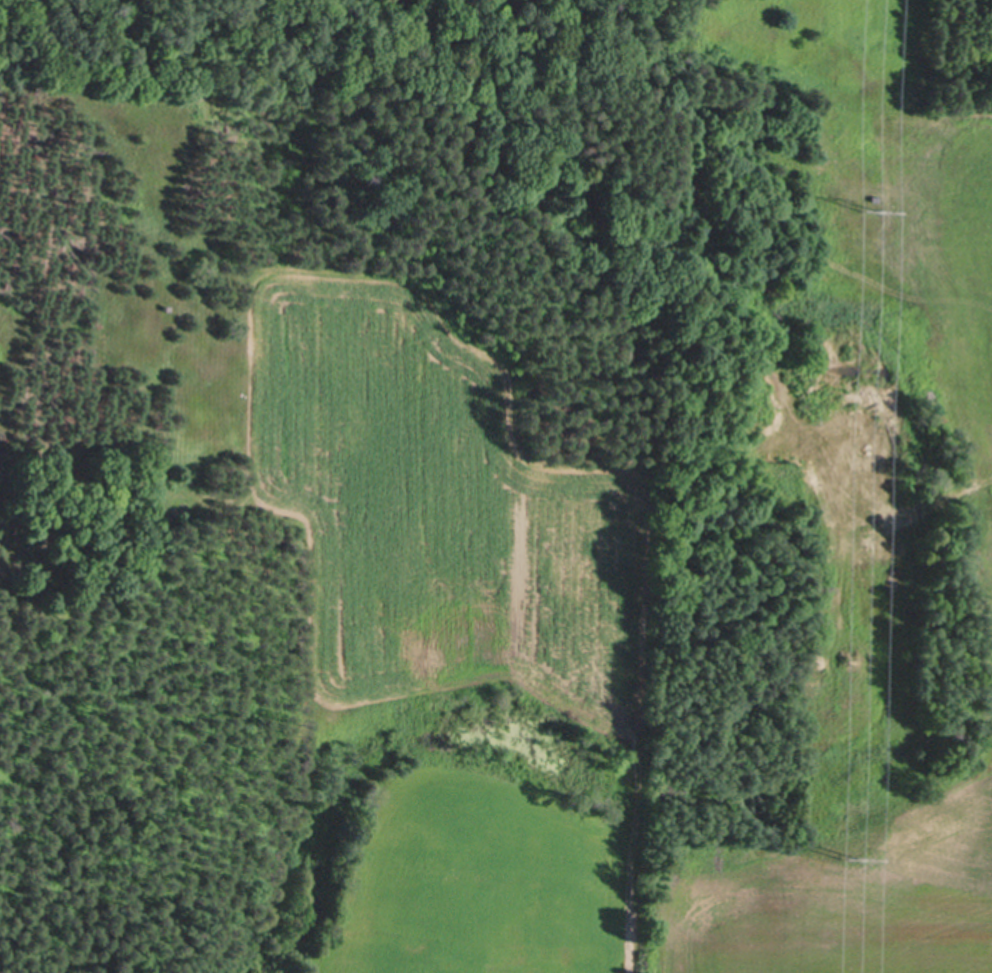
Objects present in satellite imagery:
power tower: (866, 207)
quarry: (962, 324)
power tower: (848, 854)

